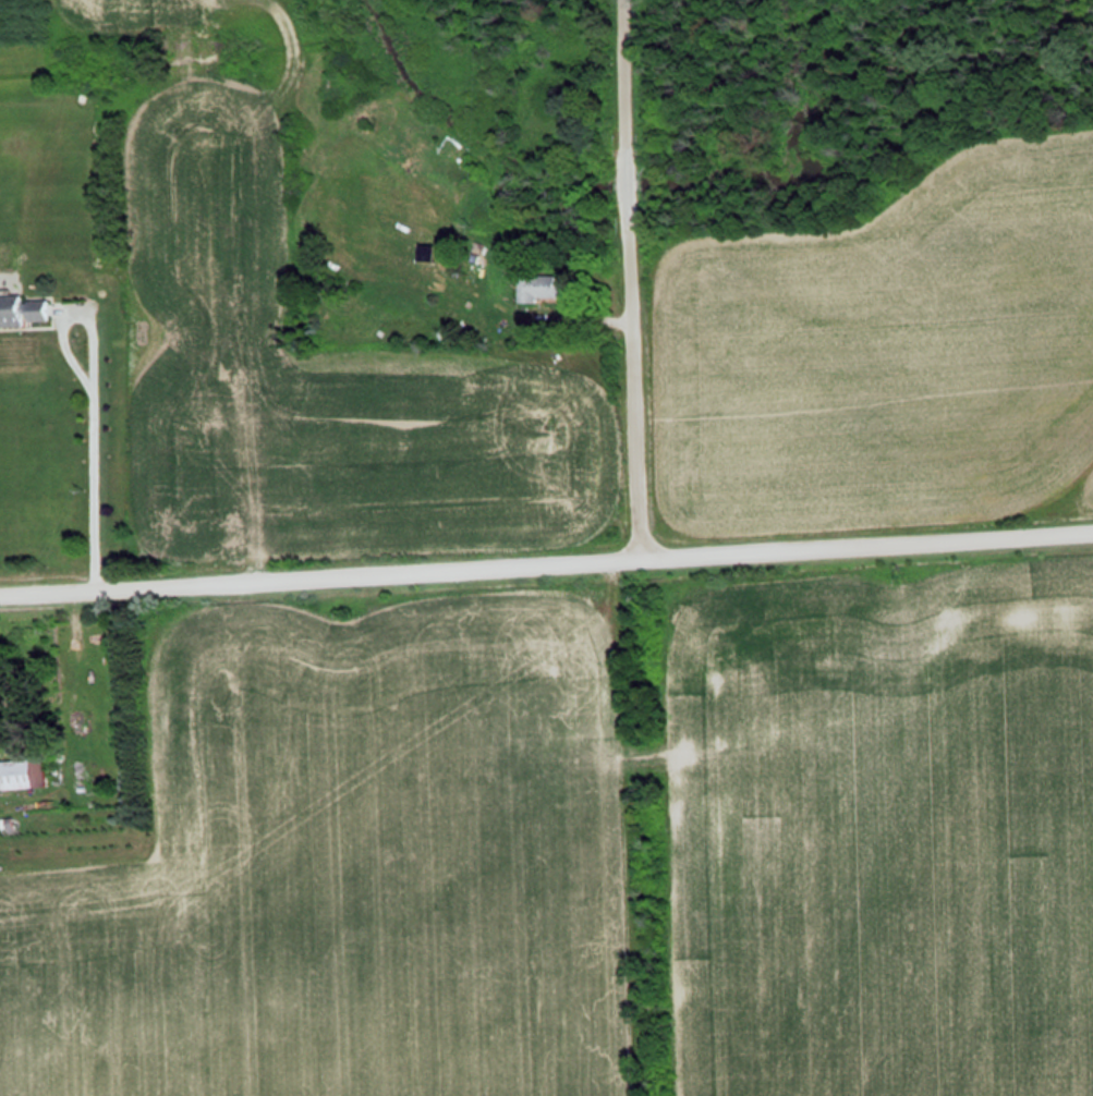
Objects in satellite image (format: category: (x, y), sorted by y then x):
building: (390, 223)
road: (633, 275)
building: (530, 287)
building: (28, 309)
road: (97, 447)
road: (546, 556)
building: (23, 774)

